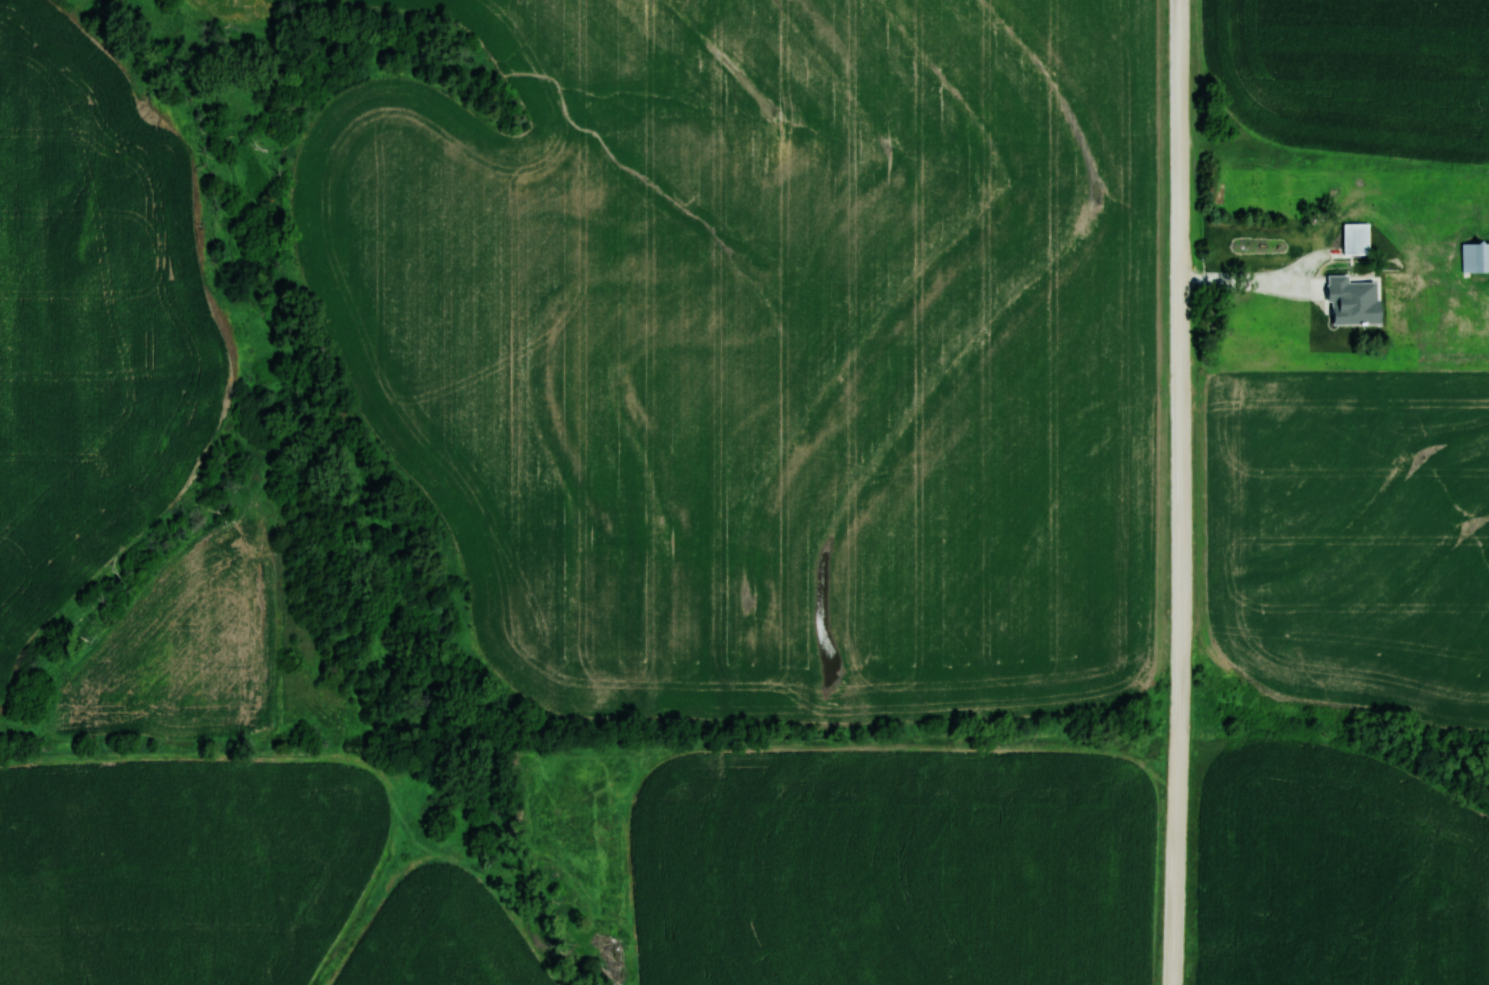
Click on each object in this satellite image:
building: (1334, 187)
building: (1300, 189)
building: (1354, 239)
building: (1286, 250)
building: (1474, 257)
road: (1179, 492)

